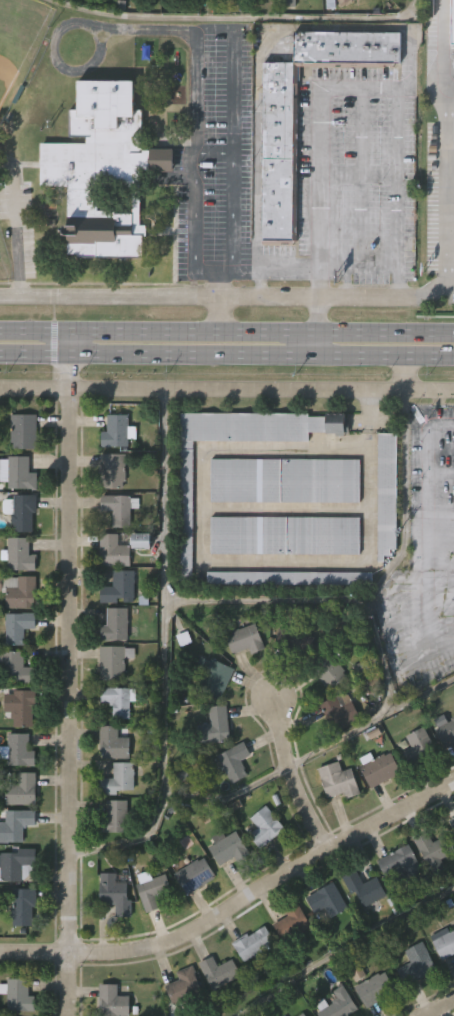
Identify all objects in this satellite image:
building: (345, 2)
building: (57, 3)
building: (291, 3)
building: (378, 6)
building: (93, 13)
building: (255, 13)
building: (136, 16)
road: (238, 16)
building: (173, 17)
building: (214, 17)
building: (453, 20)
road: (65, 24)
building: (292, 25)
road: (214, 26)
building: (343, 27)
road: (147, 28)
park: (19, 43)
road: (441, 49)
road: (395, 90)
building: (279, 152)
building: (104, 168)
road: (357, 171)
road: (232, 189)
building: (275, 195)
road: (448, 199)
building: (156, 200)
road: (195, 209)
road: (16, 231)
park: (5, 259)
road: (290, 268)
road: (207, 270)
road: (240, 270)
road: (396, 279)
road: (219, 285)
road: (227, 301)
road: (219, 315)
road: (317, 326)
road: (36, 329)
road: (263, 329)
road: (227, 352)
road: (400, 372)
road: (227, 390)
building: (25, 430)
building: (116, 432)
building: (113, 470)
building: (18, 473)
building: (286, 480)
building: (388, 494)
building: (188, 507)
building: (120, 508)
building: (20, 510)
building: (108, 511)
building: (382, 534)
road: (430, 534)
building: (286, 535)
building: (453, 536)
building: (119, 546)
building: (181, 550)
building: (19, 554)
building: (291, 578)
building: (136, 581)
building: (119, 587)
building: (20, 591)
building: (108, 592)
road: (323, 598)
building: (284, 618)
building: (118, 624)
building: (17, 626)
building: (246, 639)
building: (295, 641)
road: (164, 654)
building: (115, 662)
building: (18, 668)
building: (330, 670)
road: (72, 672)
building: (214, 676)
building: (241, 680)
building: (291, 681)
building: (118, 701)
building: (22, 707)
building: (341, 711)
building: (325, 712)
road: (372, 724)
building: (213, 727)
building: (447, 734)
building: (114, 743)
building: (420, 748)
building: (20, 750)
building: (335, 751)
building: (236, 762)
building: (210, 766)
building: (382, 768)
building: (442, 770)
road: (293, 775)
building: (117, 778)
building: (339, 781)
building: (411, 787)
building: (23, 790)
road: (229, 796)
building: (230, 801)
building: (375, 809)
building: (117, 818)
building: (333, 821)
building: (453, 821)
building: (17, 823)
building: (266, 827)
building: (226, 846)
building: (433, 851)
building: (111, 857)
building: (17, 863)
building: (402, 863)
building: (451, 863)
building: (260, 867)
building: (195, 875)
building: (222, 887)
building: (366, 887)
building: (425, 889)
building: (153, 890)
building: (116, 893)
building: (328, 899)
building: (395, 902)
road: (236, 903)
building: (24, 905)
building: (190, 915)
building: (293, 922)
building: (360, 928)
building: (148, 930)
building: (110, 935)
building: (322, 940)
building: (445, 942)
building: (255, 944)
building: (18, 947)
road: (345, 950)
building: (287, 963)
building: (418, 963)
building: (220, 970)
building: (441, 982)
building: (249, 983)
building: (185, 985)
building: (376, 988)
building: (21, 992)
building: (113, 1001)
building: (412, 1002)
building: (342, 1004)
building: (214, 1008)
road: (441, 1008)
building: (182, 1012)
building: (302, 1014)
building: (377, 1014)
building: (285, 1015)

